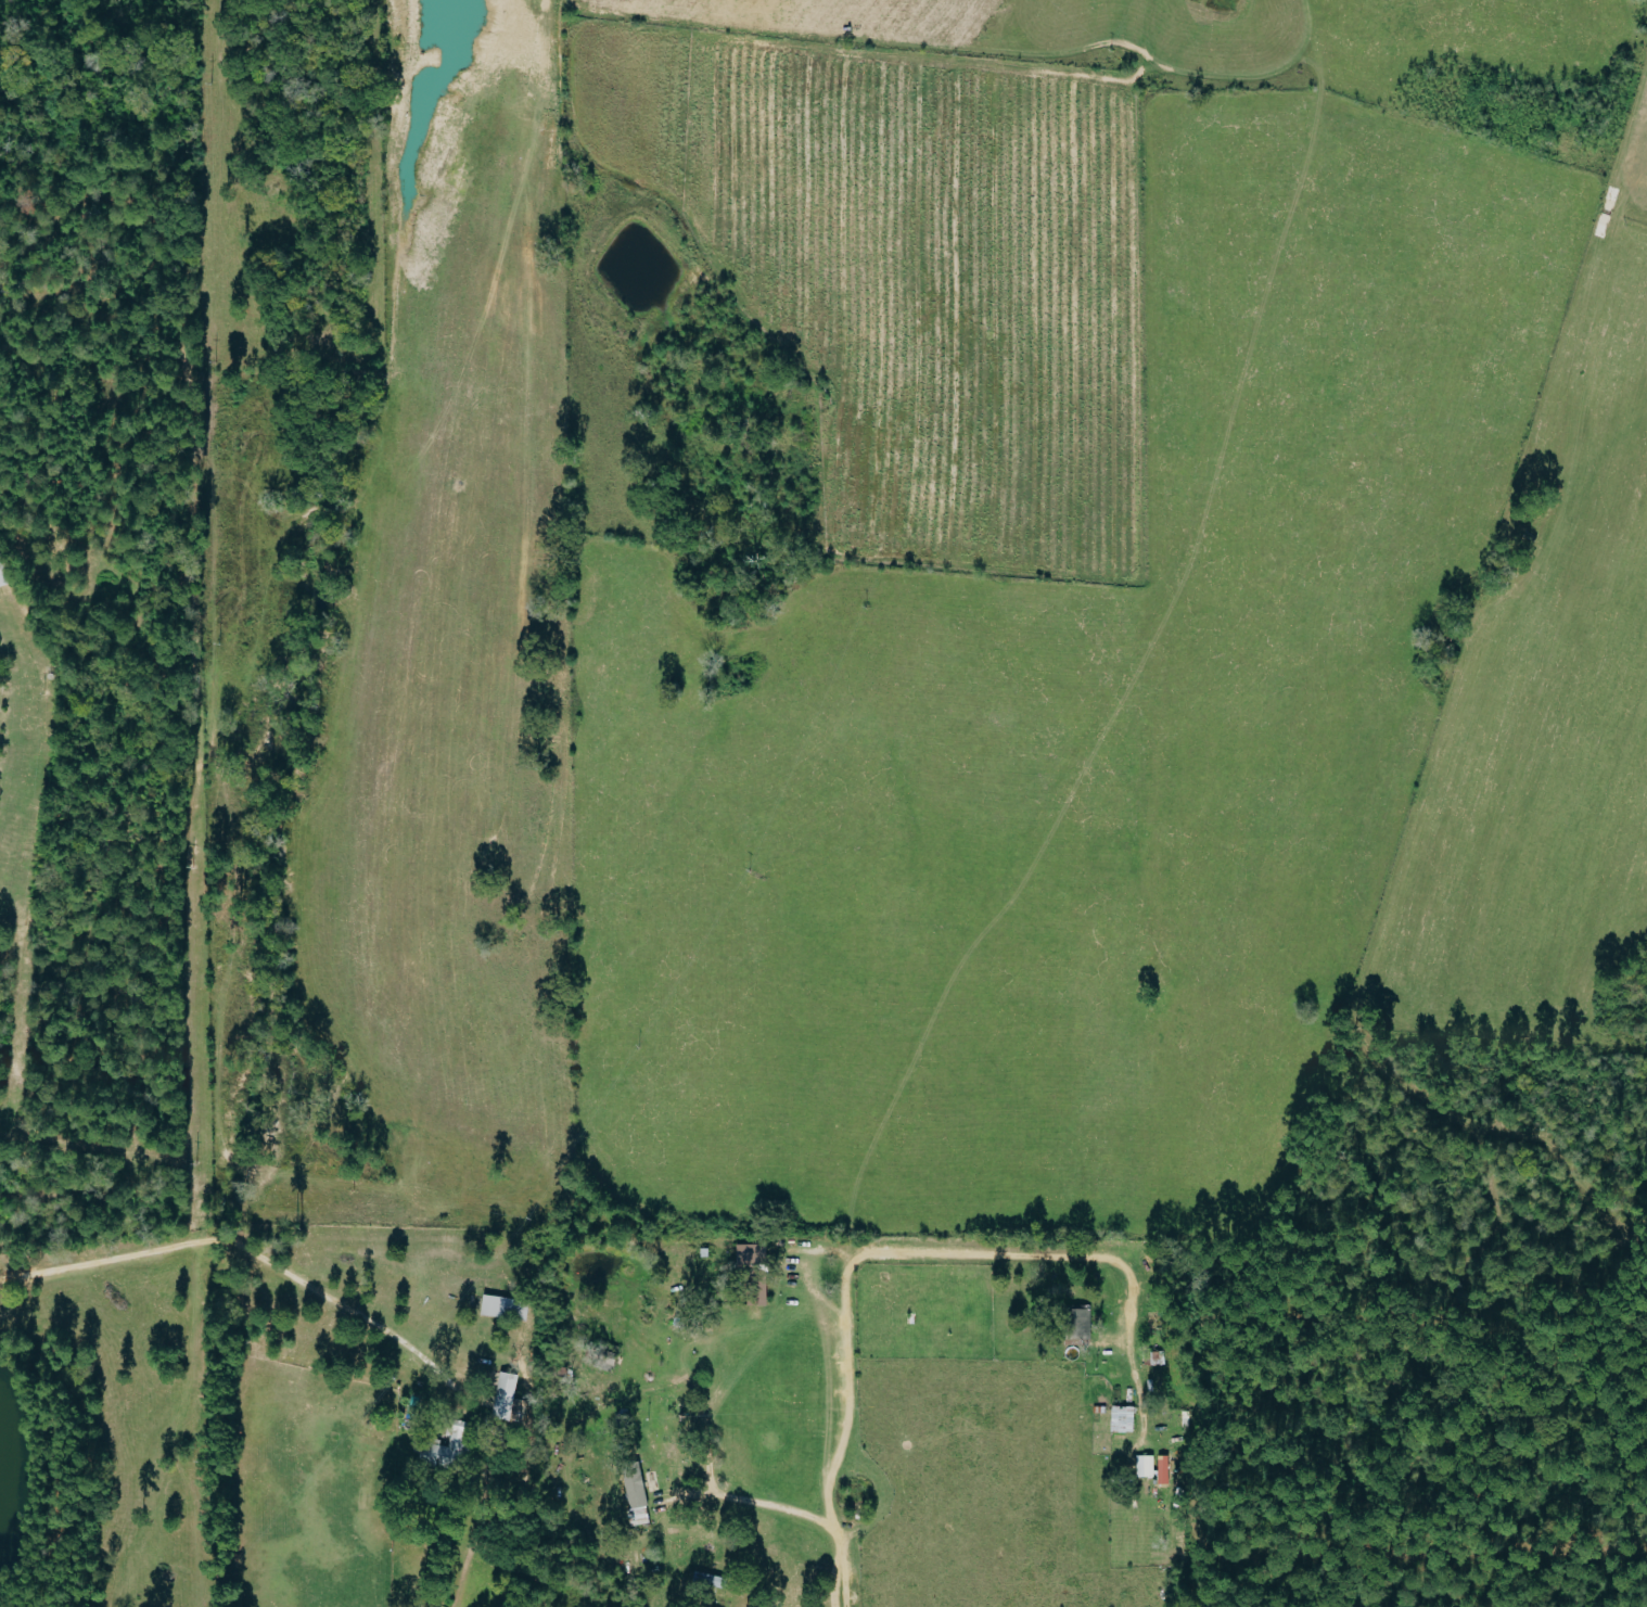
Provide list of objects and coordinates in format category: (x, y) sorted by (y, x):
building: (3, 572)
road: (251, 1250)
road: (892, 1252)
building: (749, 1255)
building: (507, 1308)
building: (1083, 1322)
building: (1157, 1359)
building: (507, 1396)
building: (1124, 1419)
building: (452, 1447)
building: (1147, 1466)
building: (1165, 1470)
building: (639, 1500)
road: (809, 1519)
building: (713, 1581)

